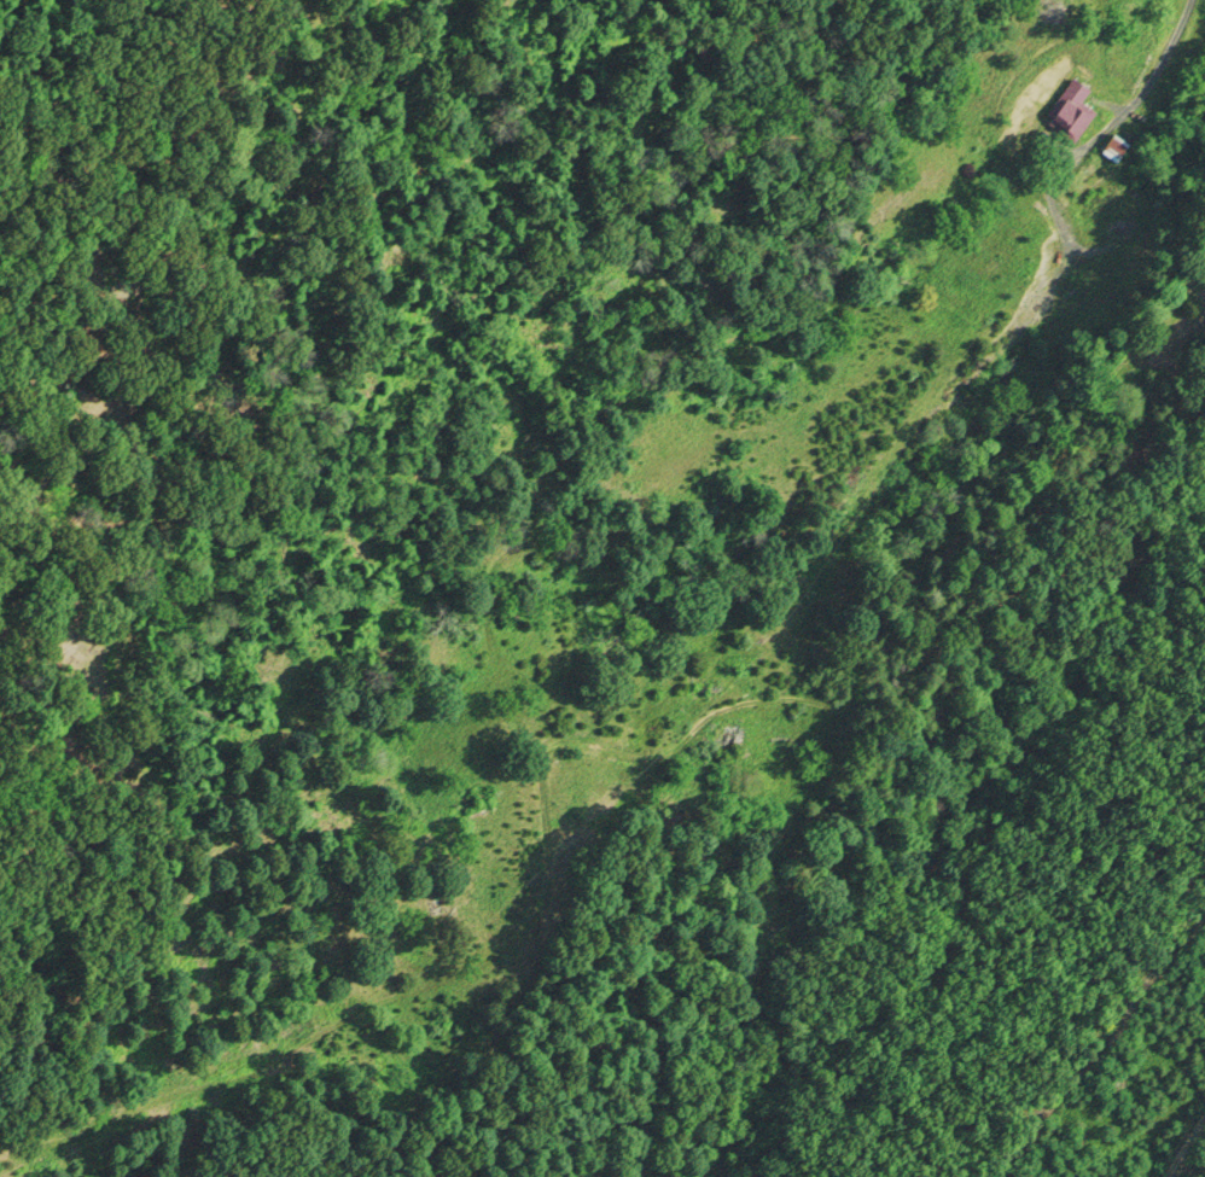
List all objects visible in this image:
building: (1077, 112)
building: (1118, 151)
road: (997, 476)

